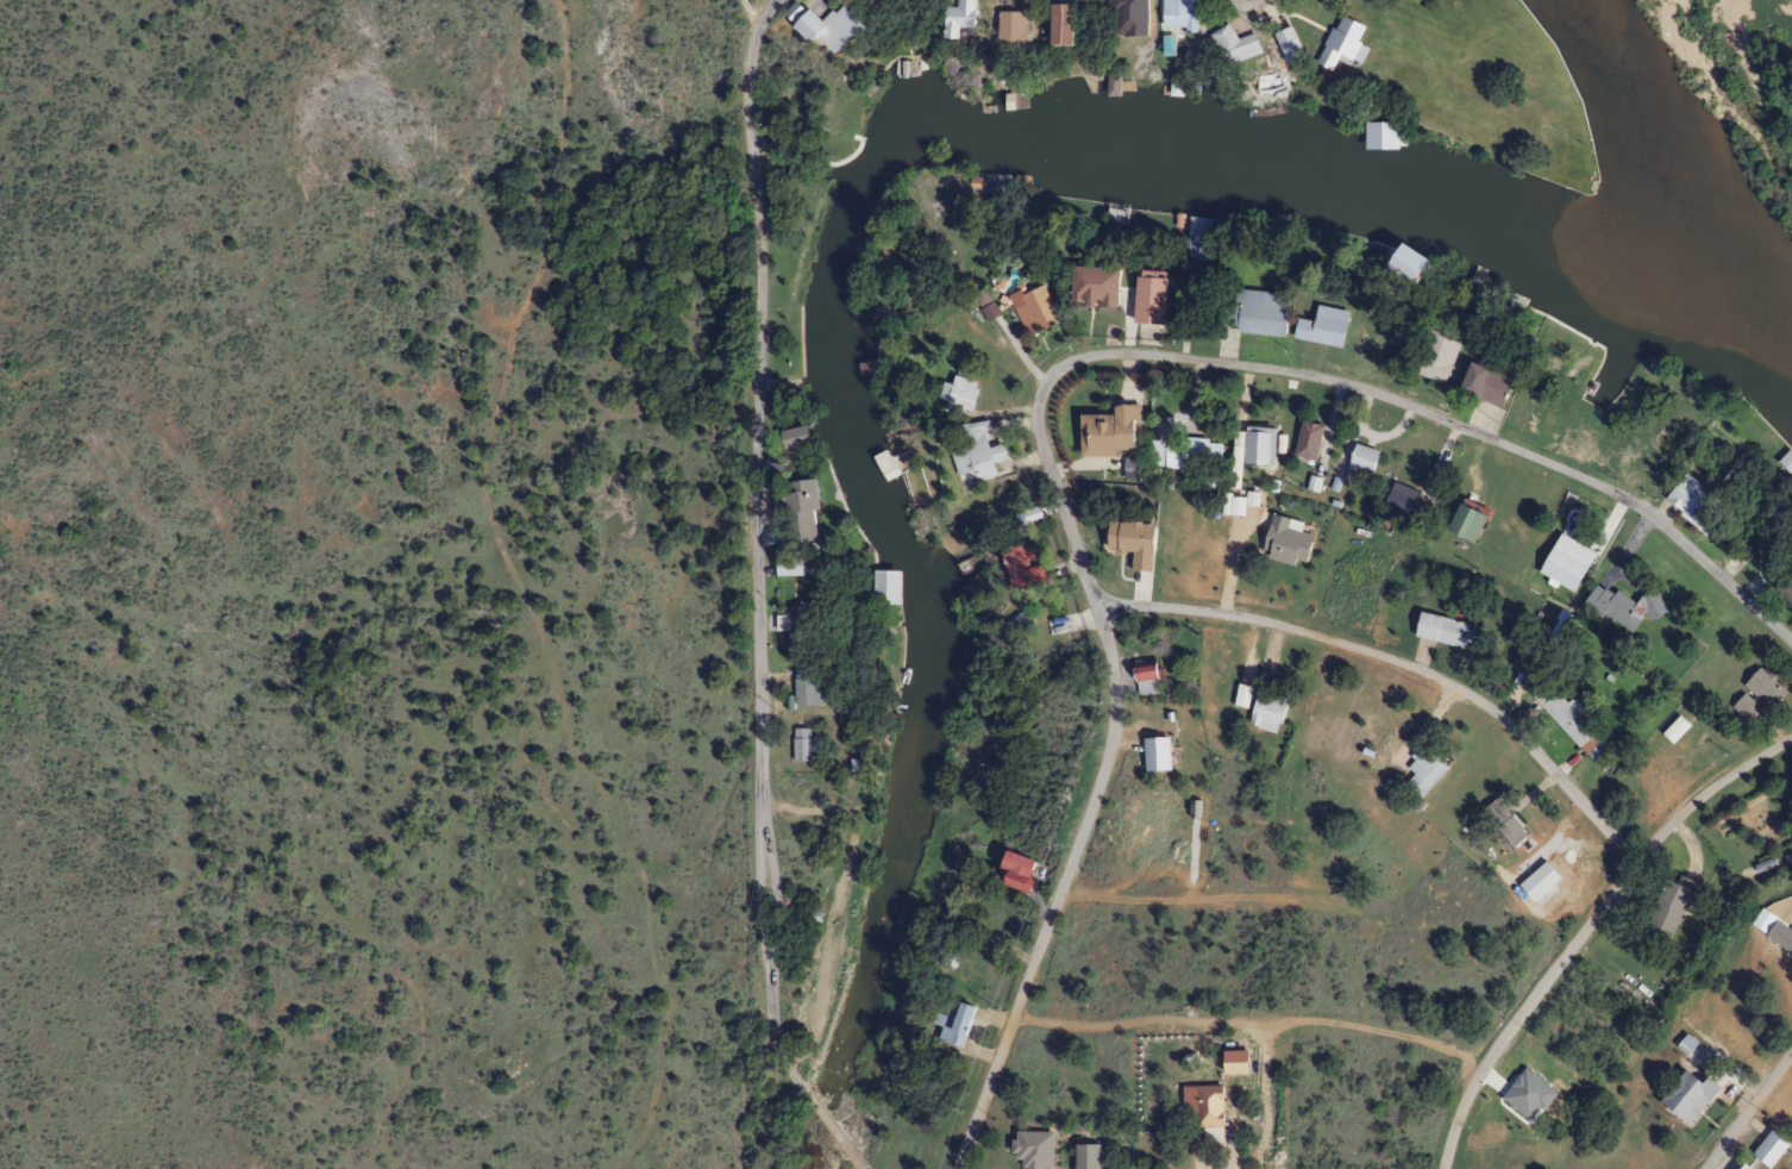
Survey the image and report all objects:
building: (1185, 14)
building: (965, 18)
building: (1069, 24)
building: (1019, 25)
building: (837, 26)
building: (1347, 43)
building: (1291, 44)
building: (1238, 45)
building: (1113, 87)
building: (1270, 101)
building: (1386, 133)
river: (1715, 152)
building: (1119, 212)
building: (1197, 224)
building: (1157, 298)
building: (1038, 311)
building: (1264, 313)
building: (1327, 327)
building: (1431, 358)
road: (1330, 380)
building: (1483, 386)
building: (963, 393)
building: (1117, 432)
building: (802, 437)
building: (1312, 440)
building: (1264, 445)
building: (983, 451)
building: (1197, 455)
building: (1786, 457)
building: (1365, 460)
building: (889, 465)
building: (1691, 504)
building: (1403, 505)
building: (806, 507)
building: (1460, 525)
road: (756, 539)
building: (1292, 542)
building: (1146, 543)
building: (1564, 564)
building: (822, 565)
building: (796, 567)
building: (1033, 568)
building: (888, 586)
building: (1784, 588)
building: (1618, 608)
building: (808, 631)
building: (1439, 631)
road: (1402, 663)
building: (1149, 677)
building: (810, 686)
building: (1761, 689)
building: (1743, 709)
building: (1266, 712)
building: (1562, 720)
building: (807, 745)
building: (1163, 754)
building: (1422, 774)
building: (1506, 833)
building: (1021, 871)
road: (1059, 892)
building: (1667, 904)
road: (1586, 927)
building: (1779, 937)
road: (1252, 1020)
building: (961, 1024)
road: (1747, 1111)
building: (1202, 1112)
road: (828, 1124)
building: (1029, 1149)
building: (1763, 1149)
building: (1084, 1156)
building: (1735, 1167)
road: (861, 1168)

